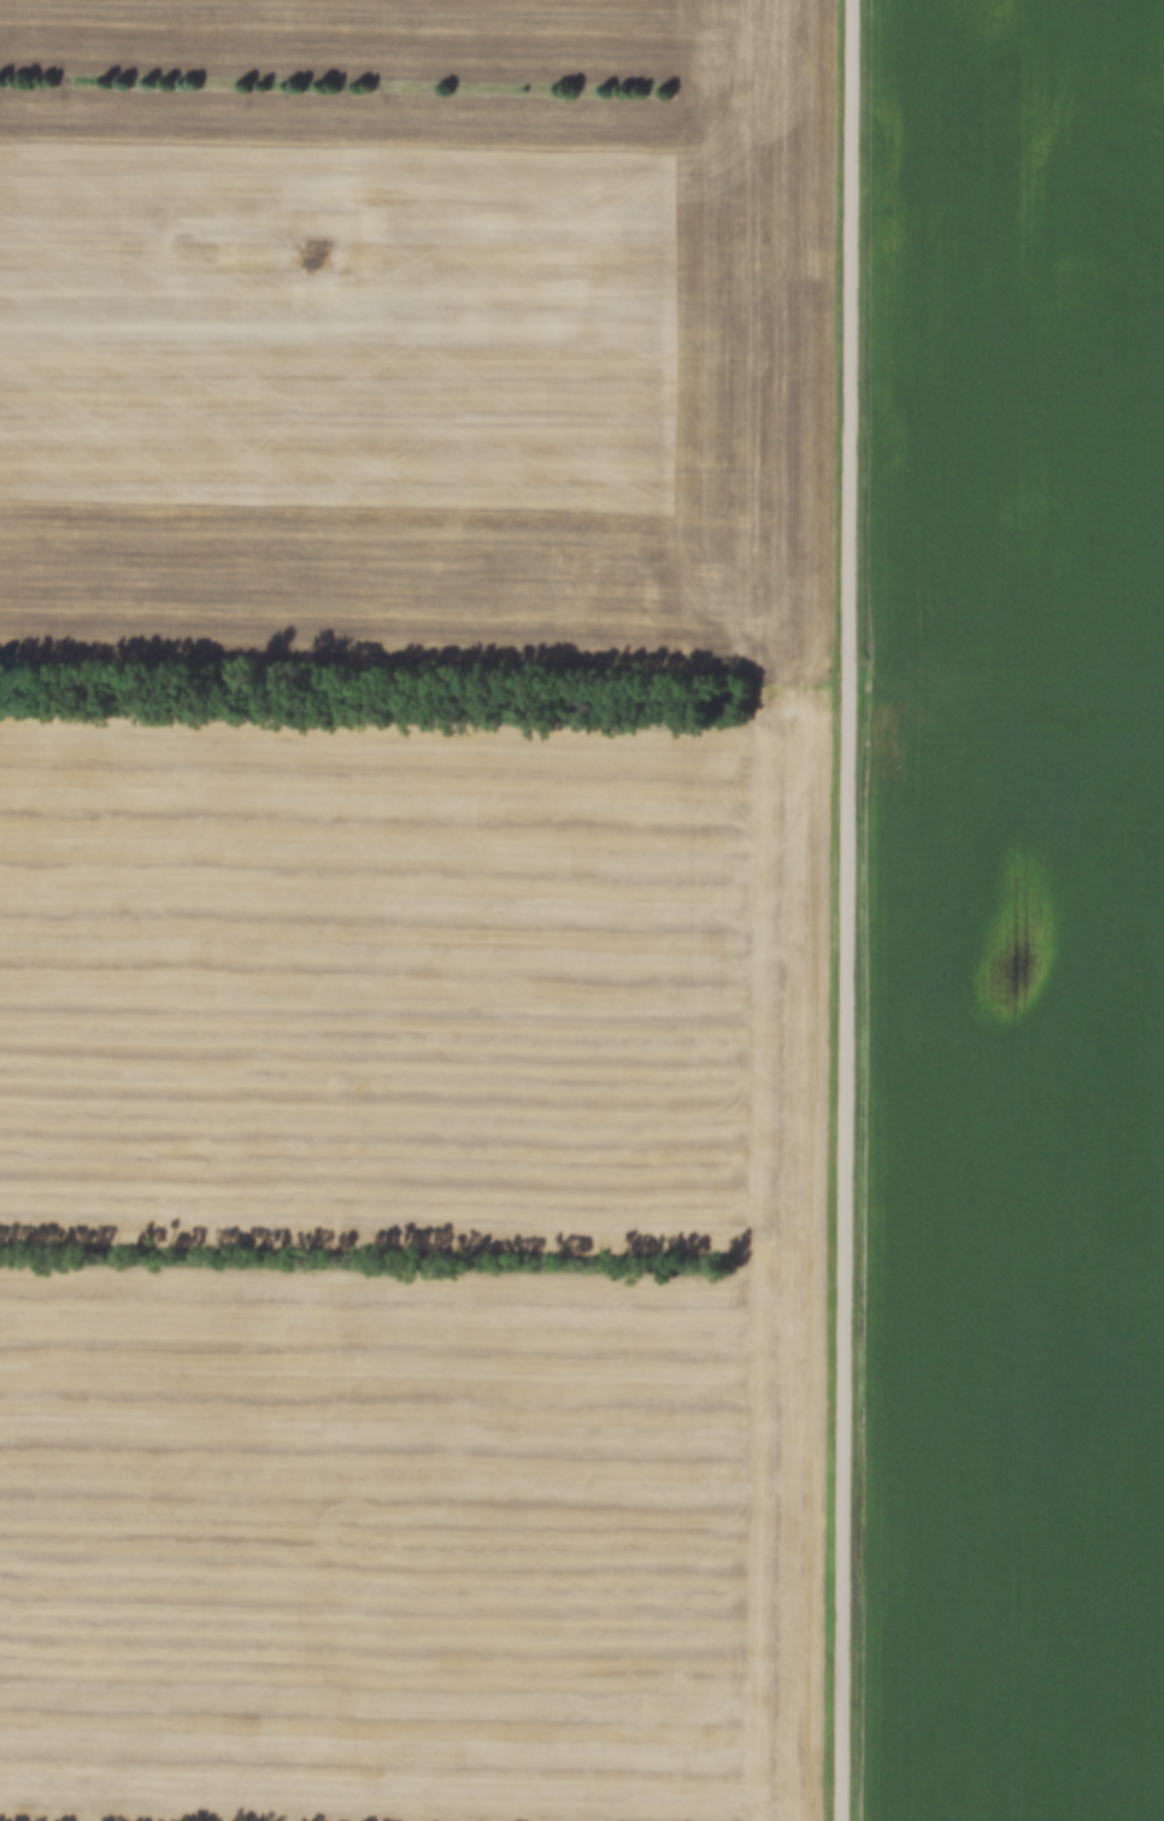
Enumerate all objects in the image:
road: (852, 910)

